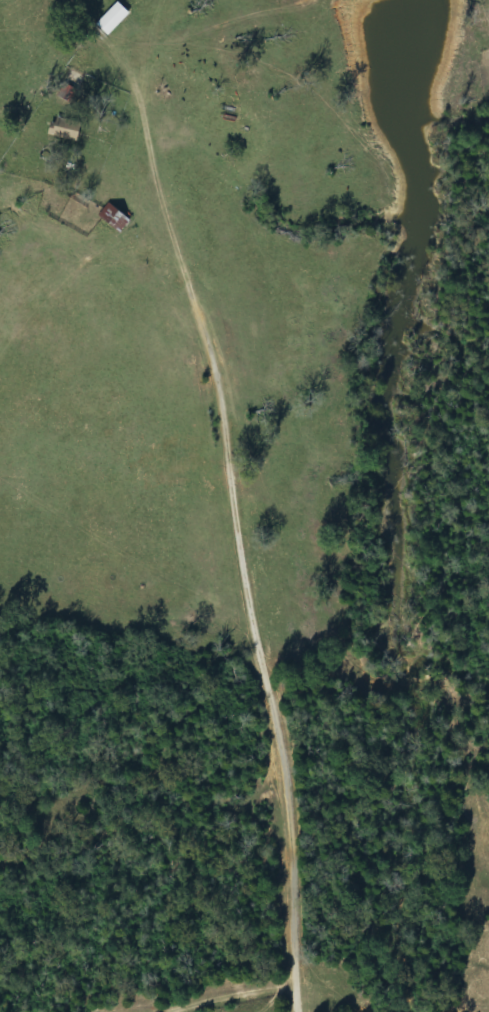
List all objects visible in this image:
building: (70, 131)
building: (116, 219)
road: (258, 603)

